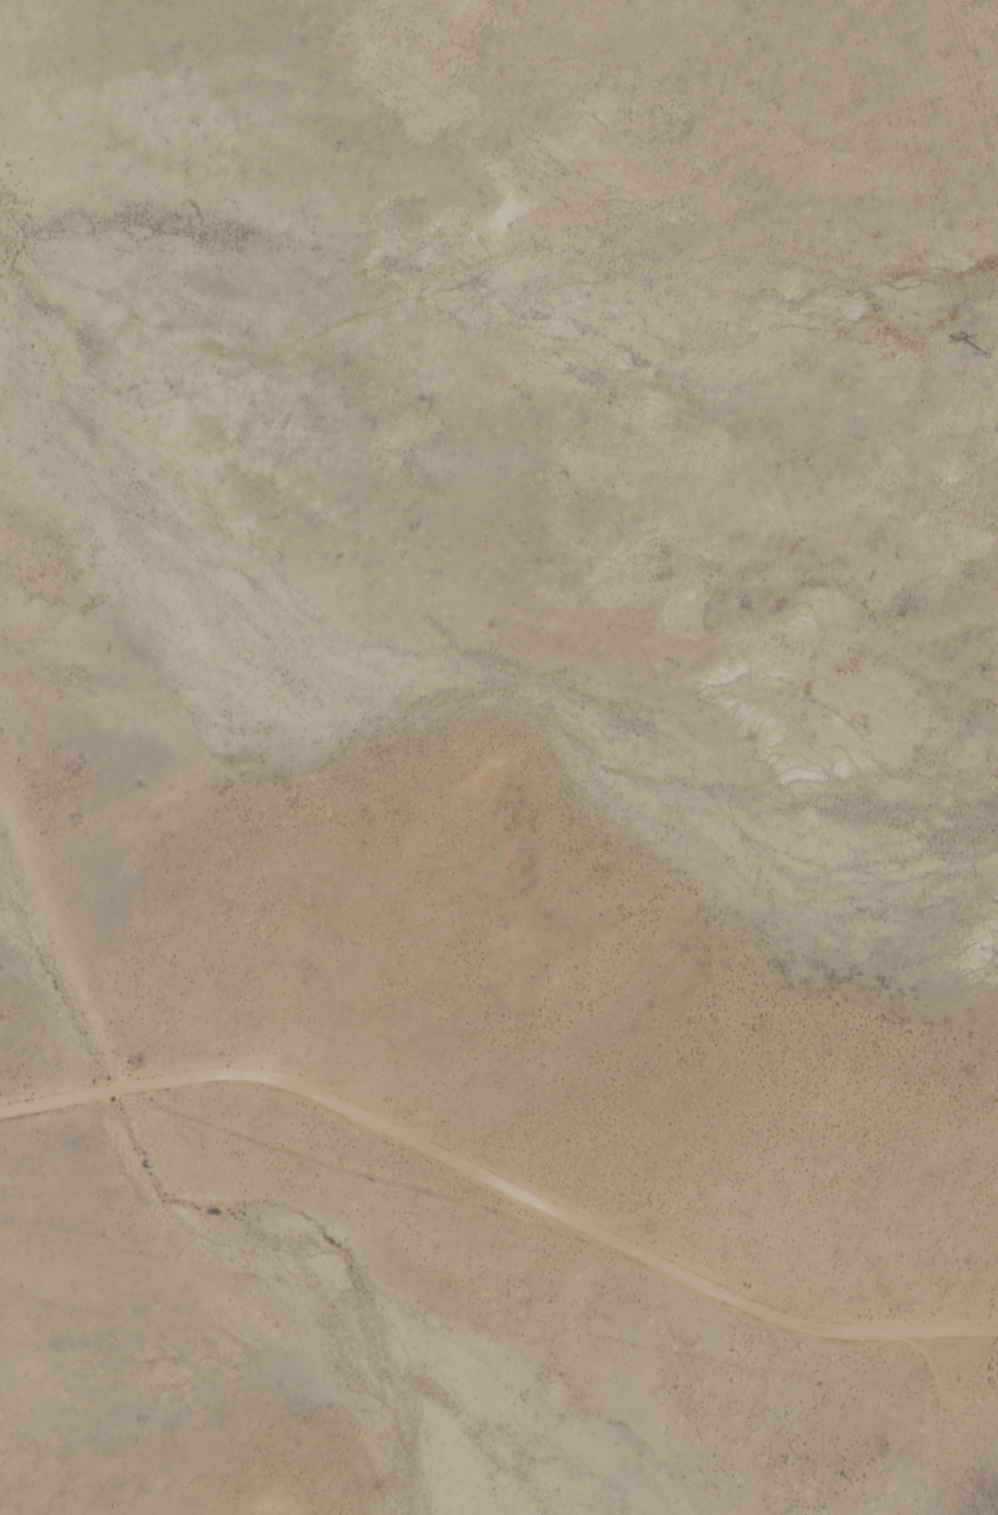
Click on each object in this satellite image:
power tower: (991, 353)
road: (500, 1183)

